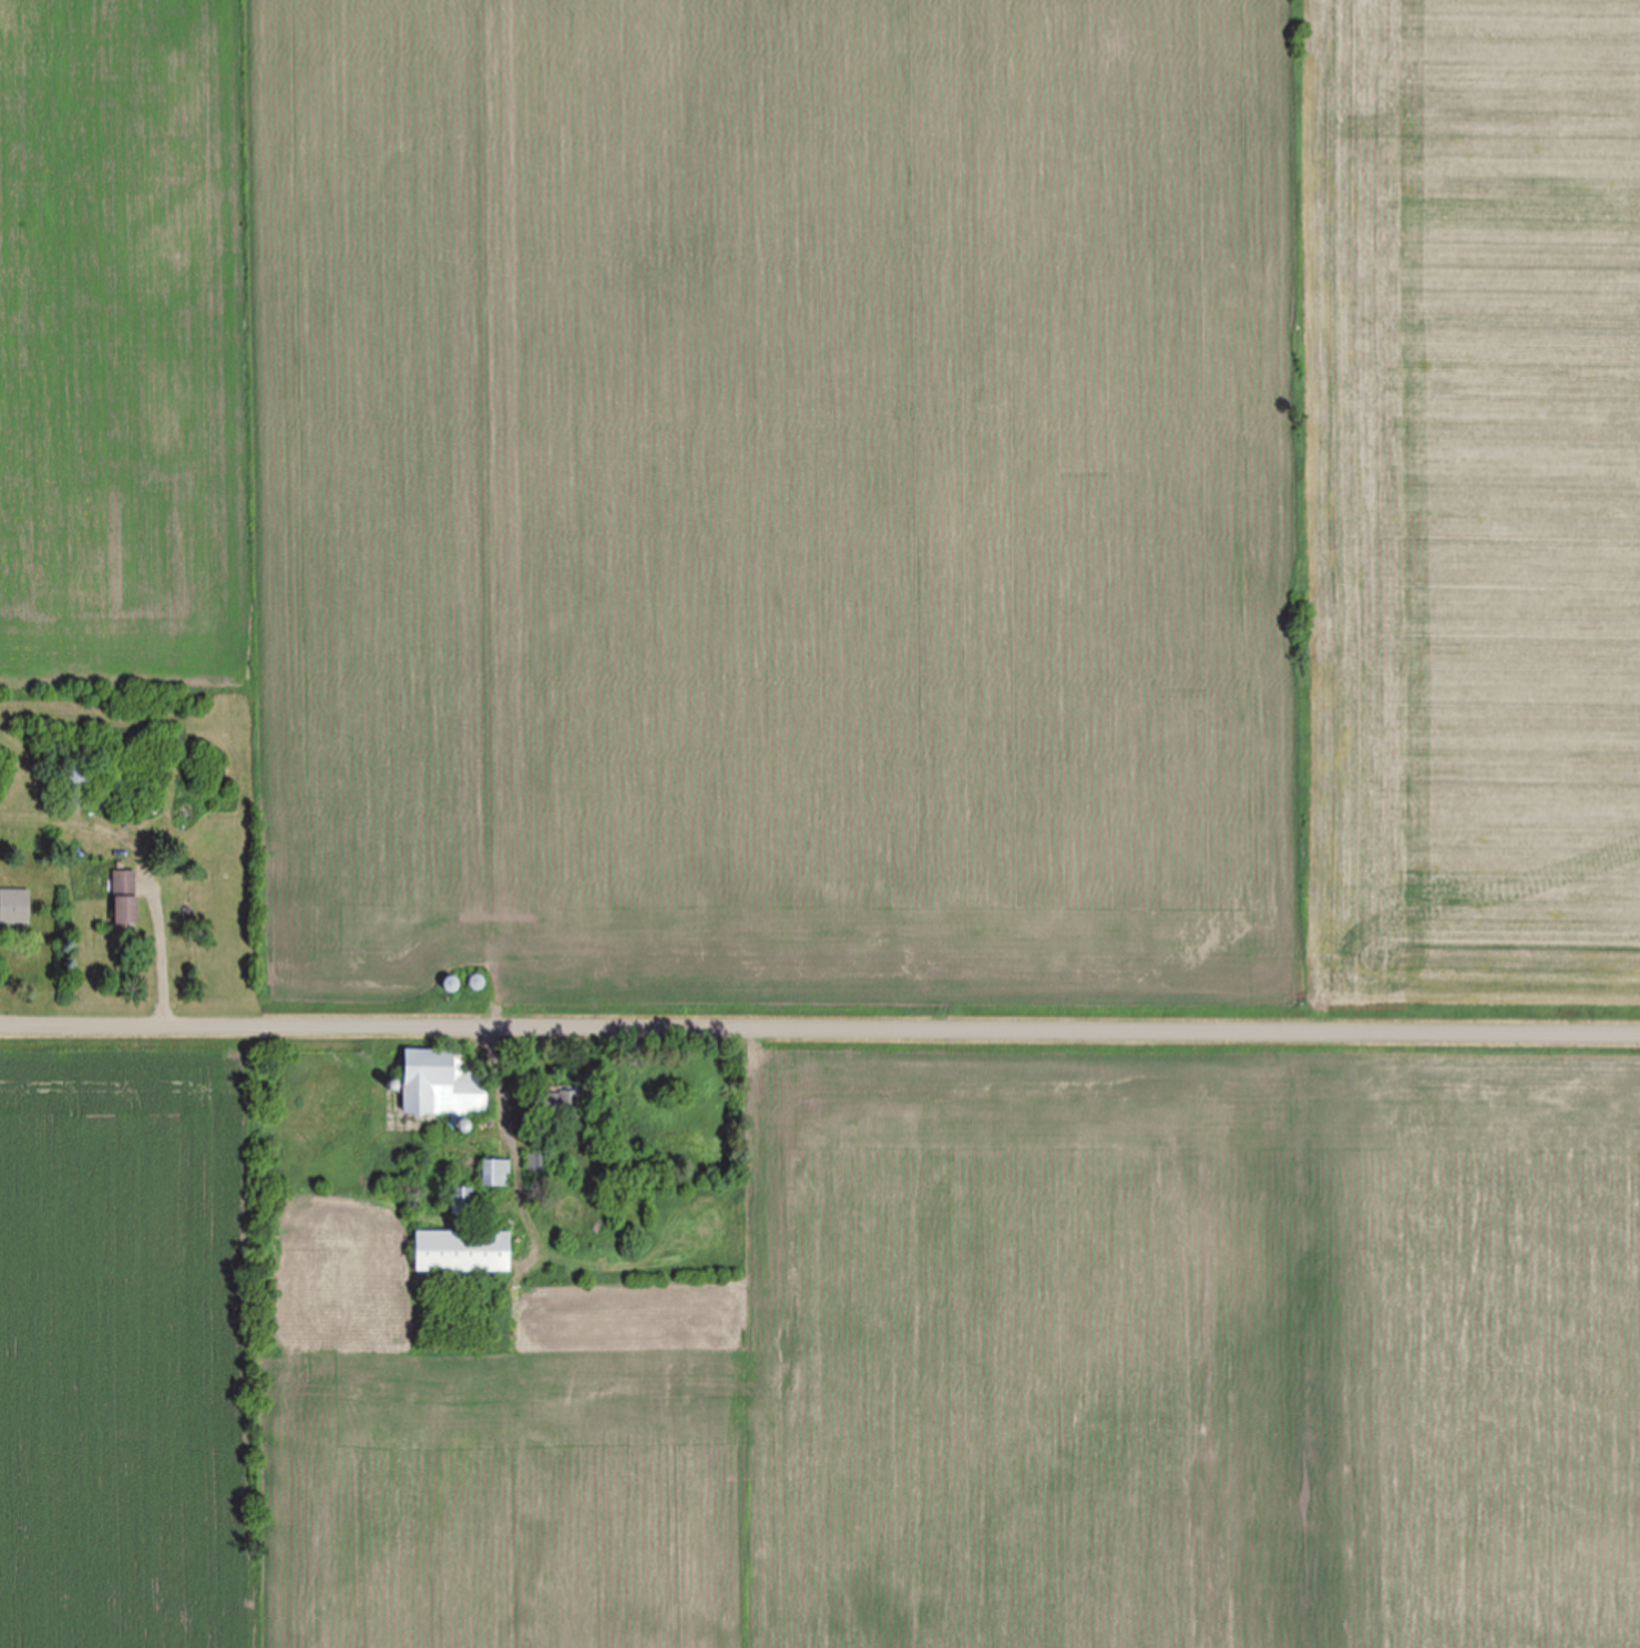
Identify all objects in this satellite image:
crop: (858, 487)
building: (79, 786)
building: (126, 879)
building: (16, 904)
building: (129, 910)
building: (479, 982)
road: (820, 1020)
building: (445, 1084)
building: (563, 1104)
building: (536, 1163)
building: (499, 1173)
building: (465, 1251)
crop: (854, 1363)

